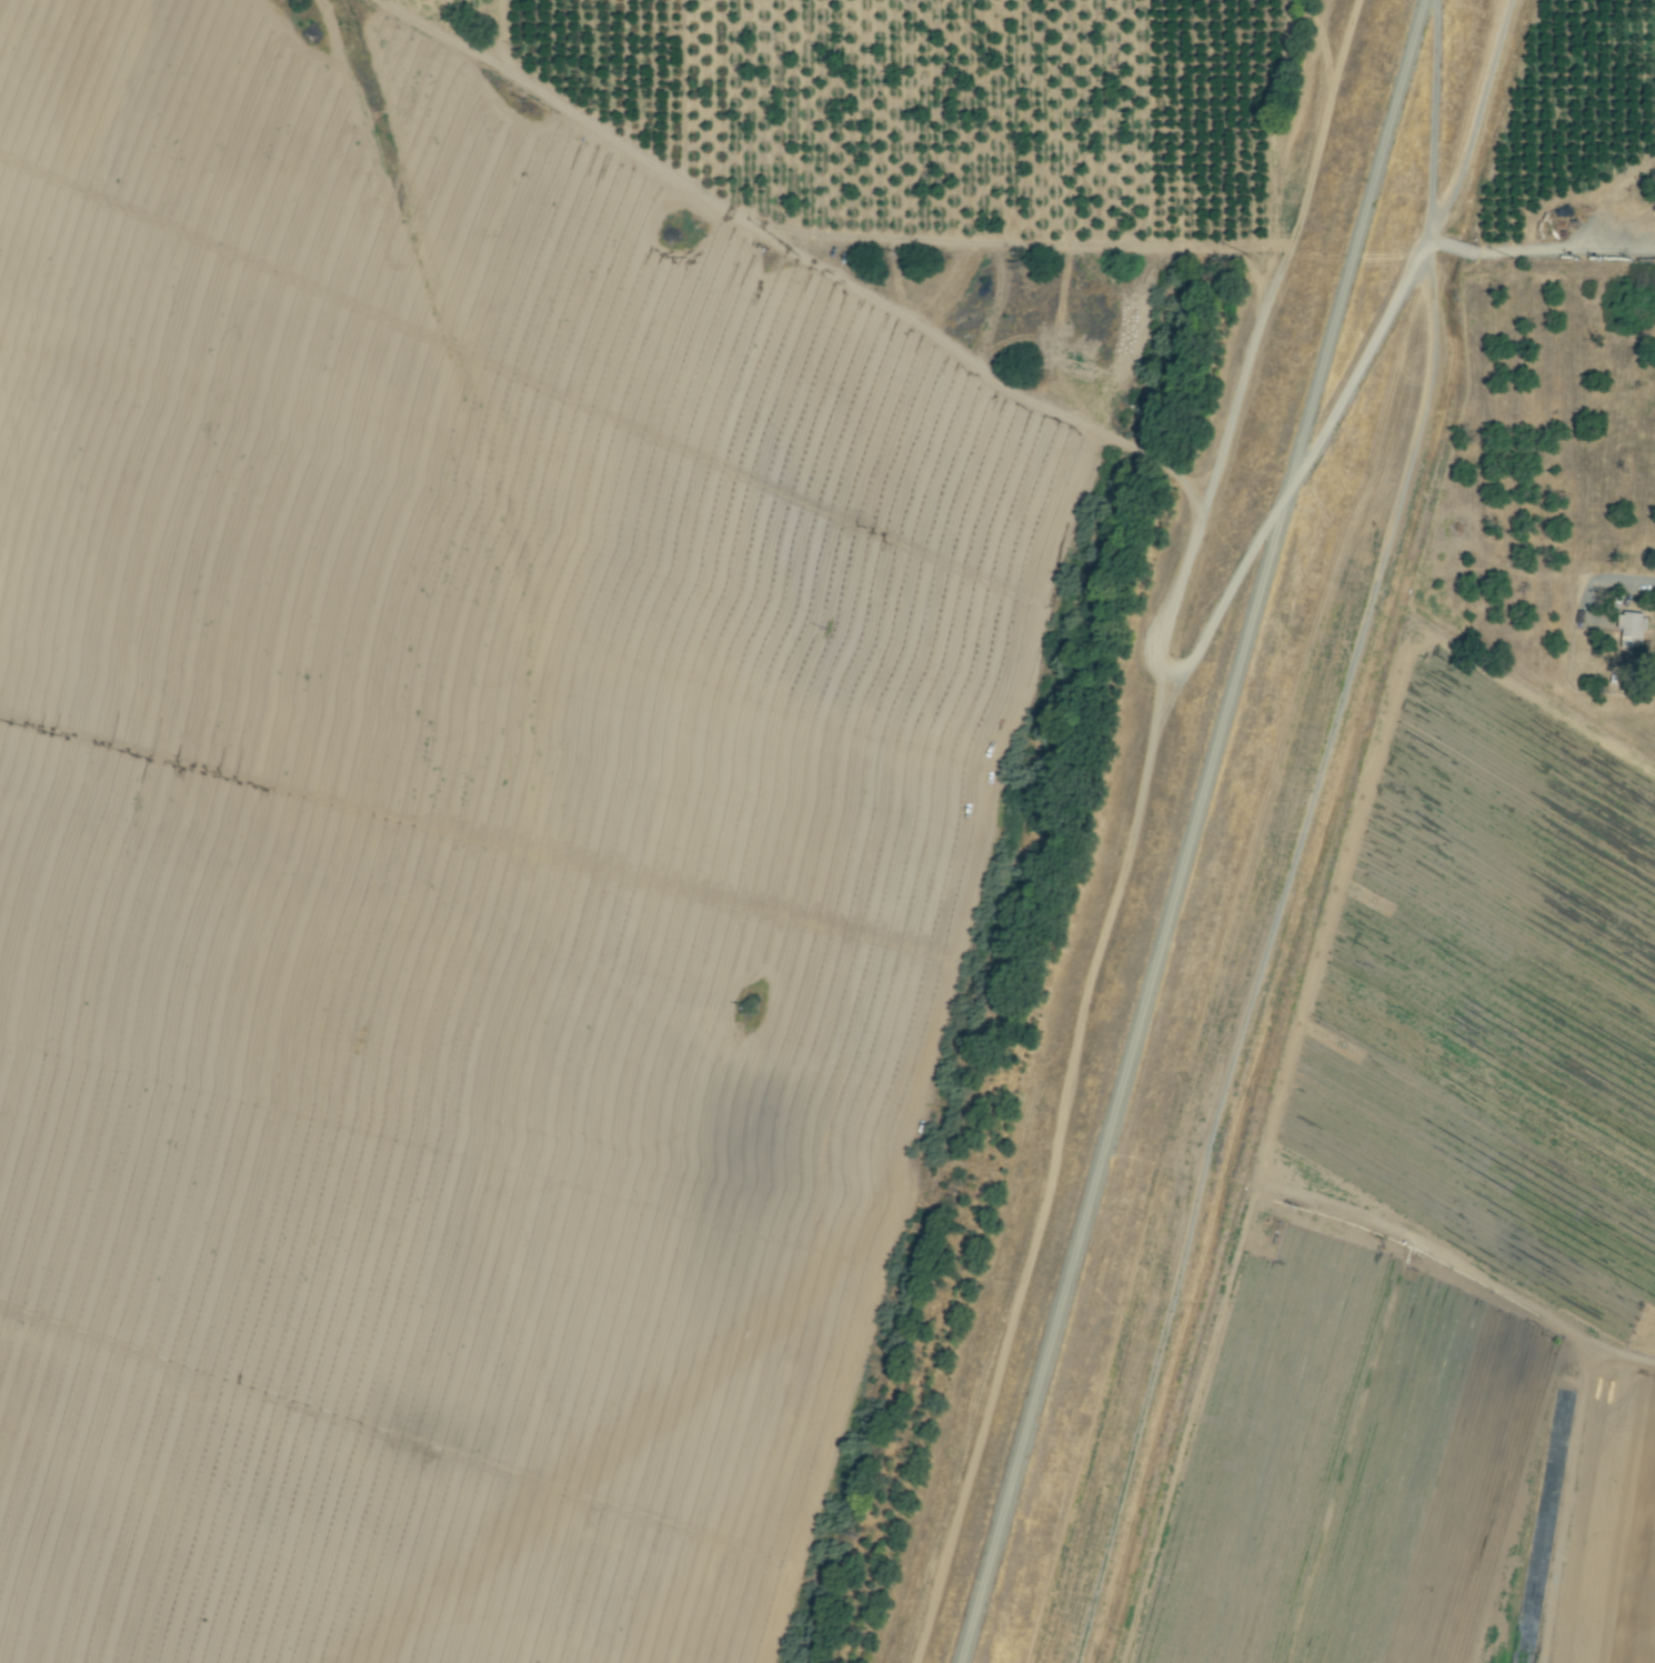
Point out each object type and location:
road: (990, 248)
road: (1626, 578)
building: (1632, 629)

